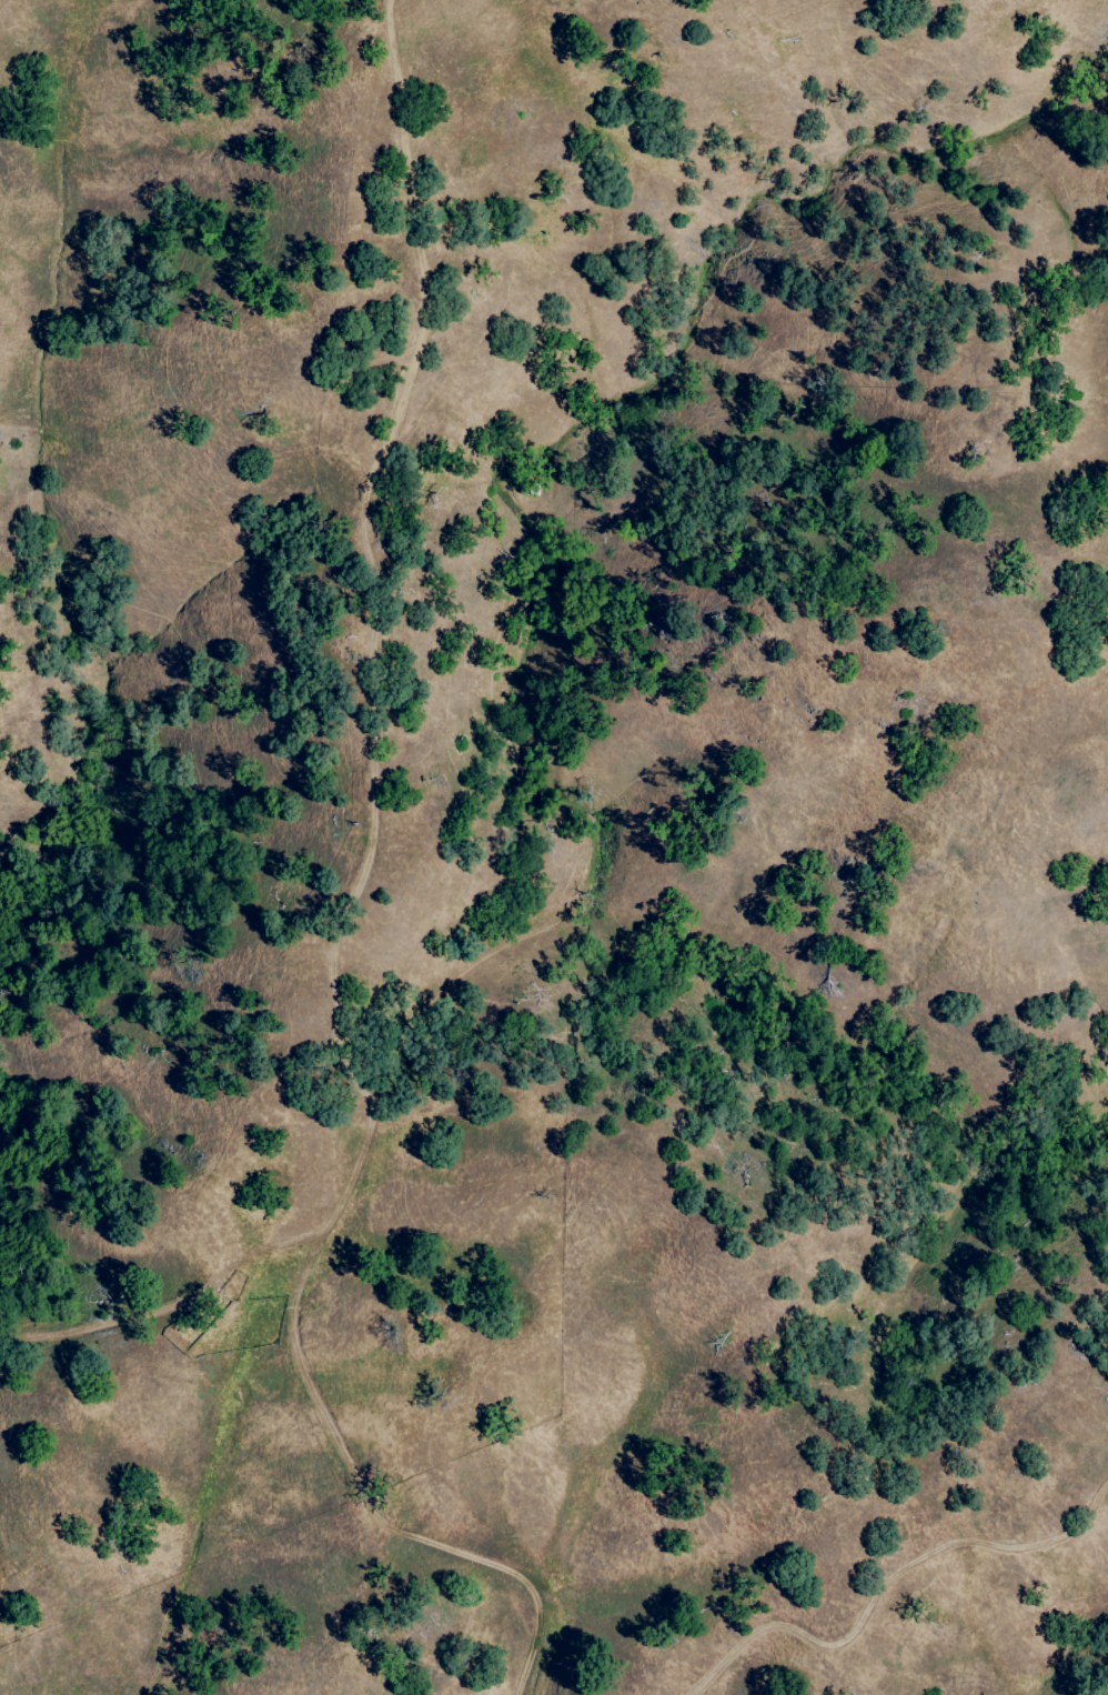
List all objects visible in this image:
road: (365, 564)
road: (180, 1302)
road: (344, 1458)
road: (883, 1593)

